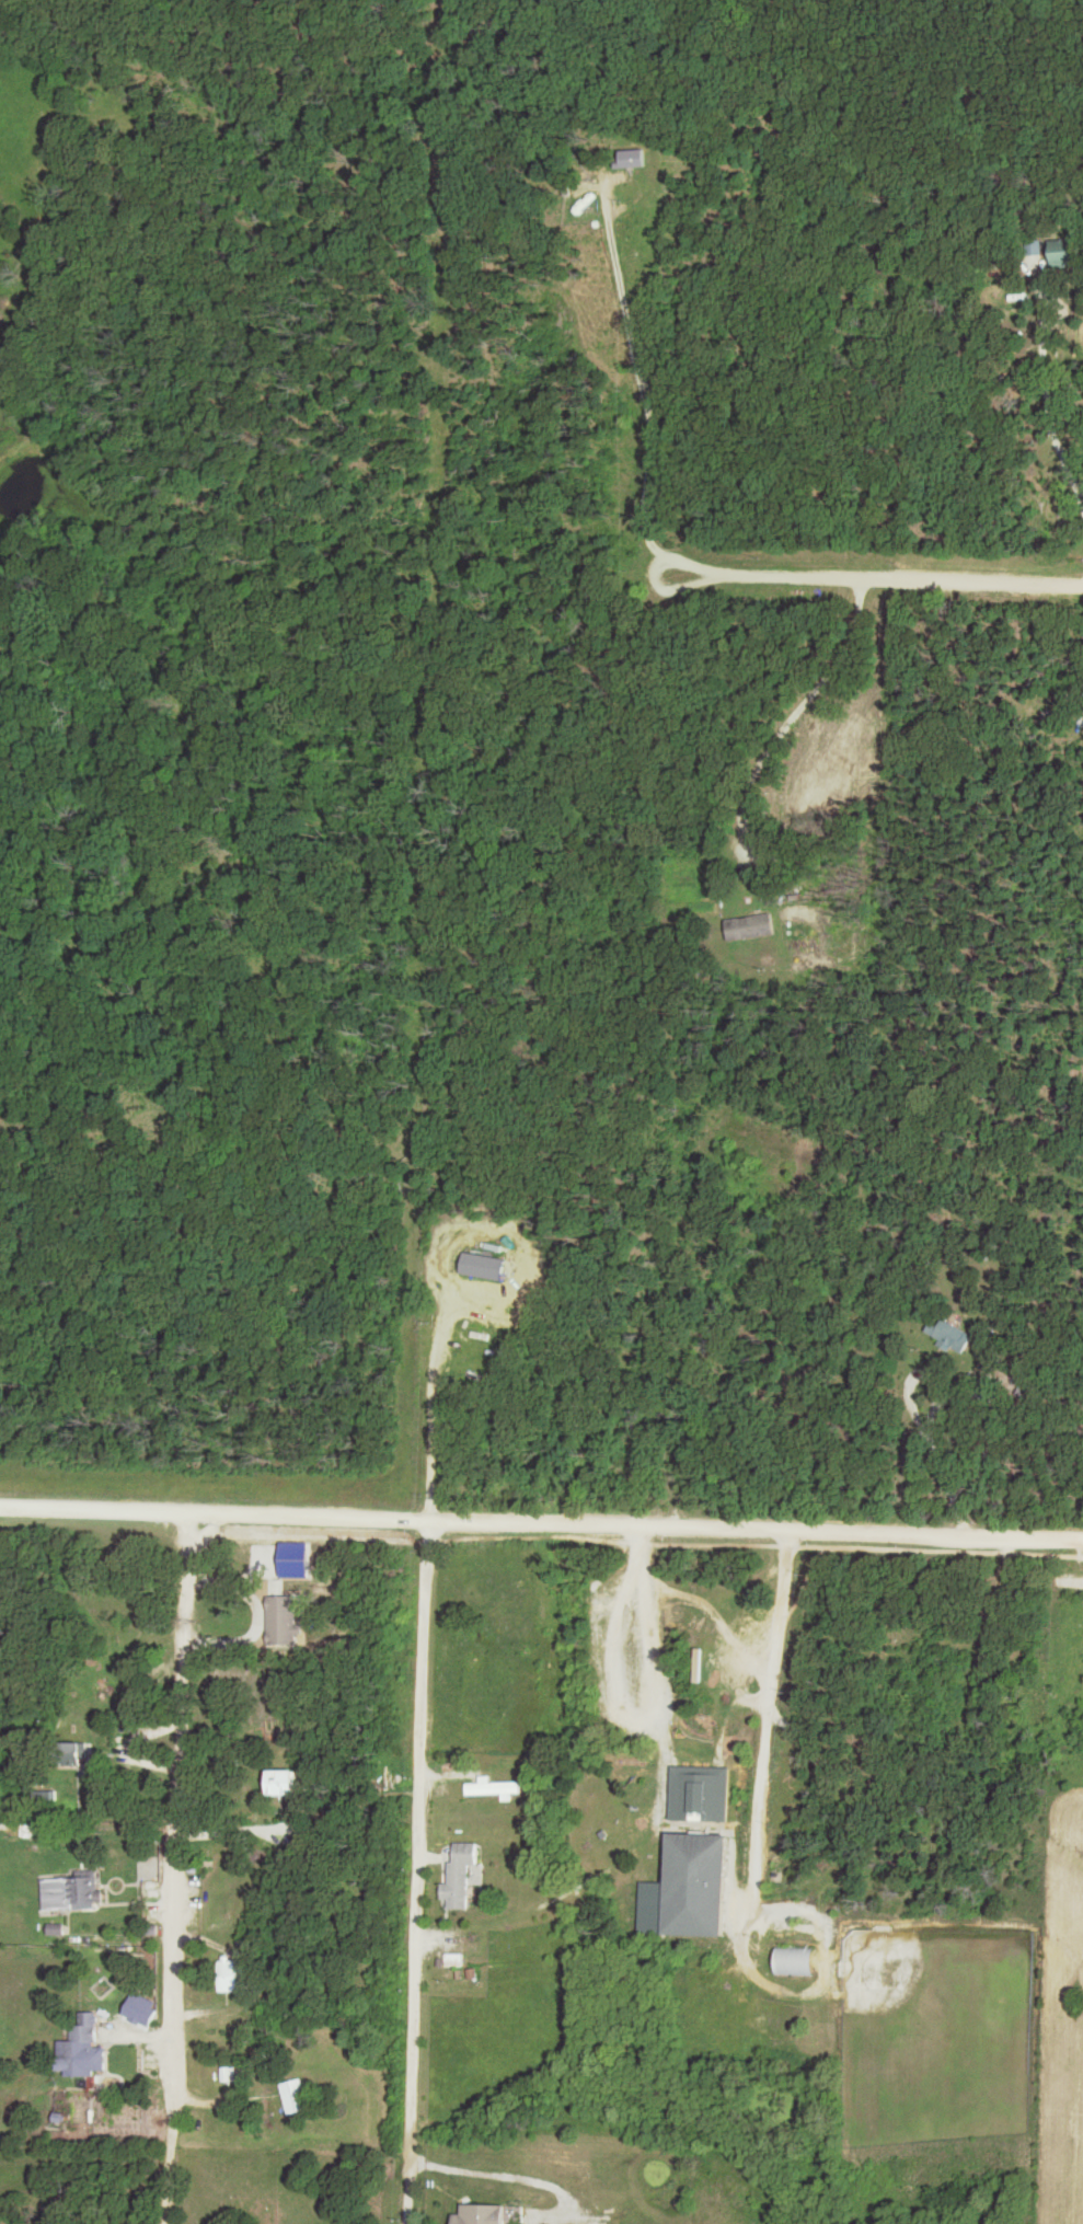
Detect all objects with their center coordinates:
building: (1034, 246)
building: (1058, 252)
road: (877, 581)
building: (747, 926)
building: (952, 1335)
road: (541, 1524)
building: (281, 1620)
building: (699, 1664)
road: (417, 1741)
building: (66, 1753)
building: (280, 1782)
building: (495, 1787)
building: (701, 1796)
road: (181, 1871)
building: (460, 1874)
building: (692, 1885)
building: (71, 1891)
building: (228, 1975)
building: (79, 2046)
building: (295, 2095)
building: (477, 2213)

